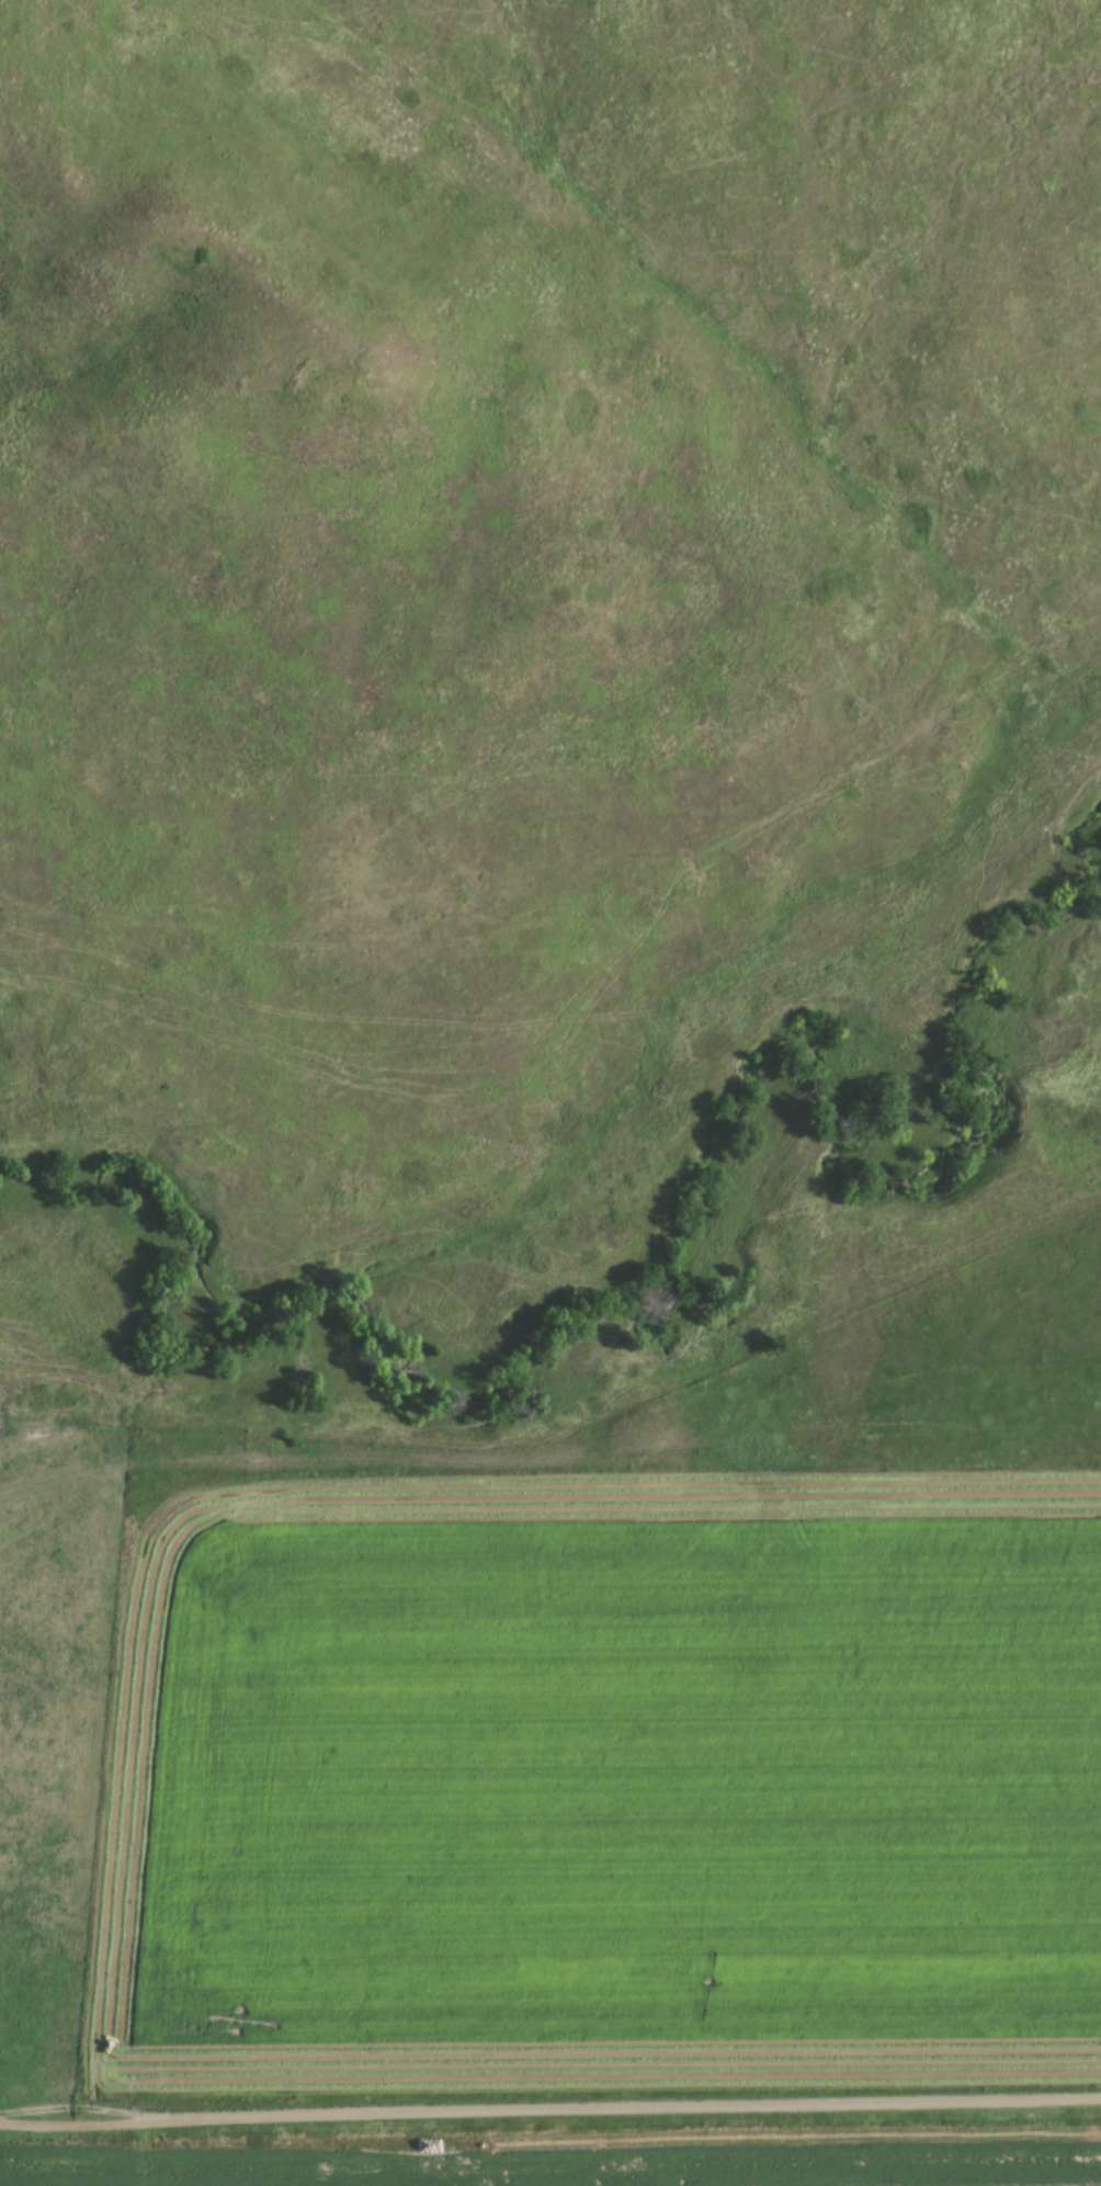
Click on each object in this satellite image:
crop: (602, 1785)
road: (550, 2106)

